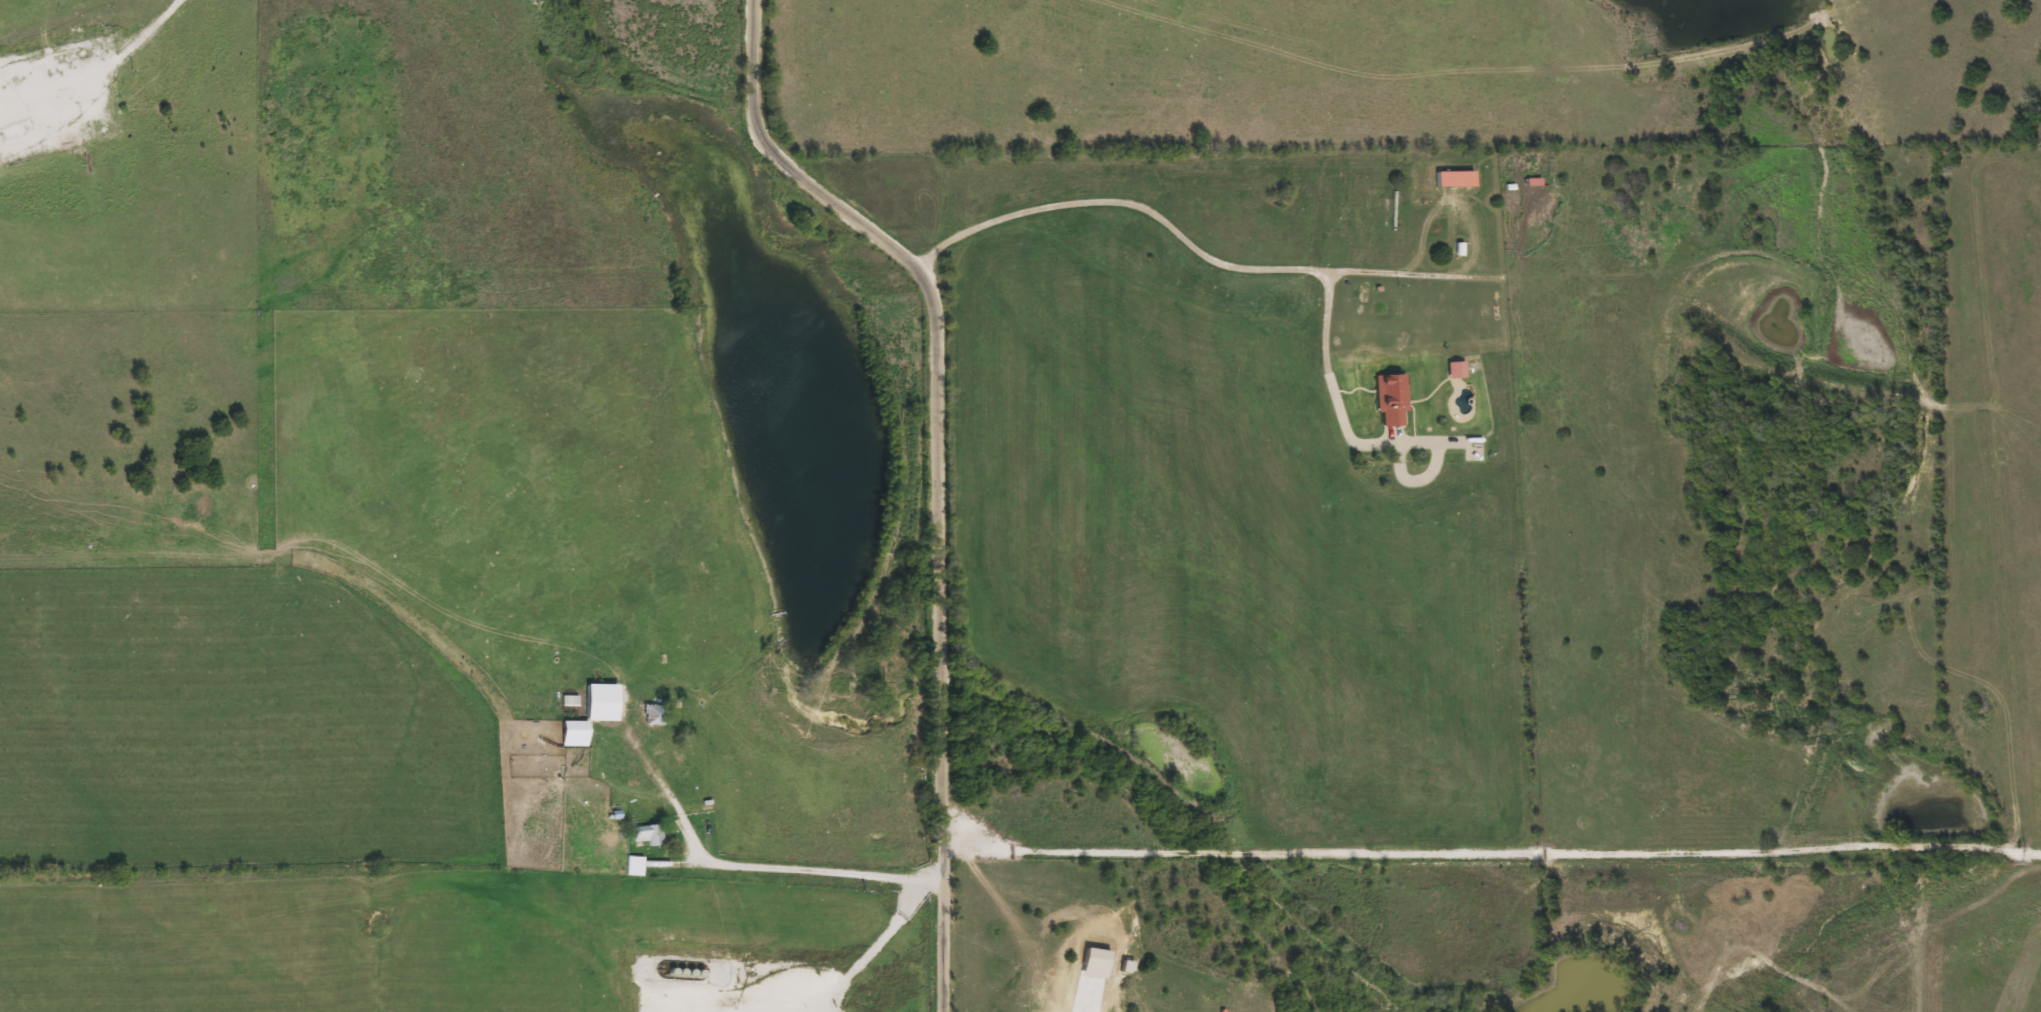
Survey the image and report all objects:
road: (152, 25)
building: (1452, 179)
road: (1279, 268)
road: (1399, 271)
building: (1455, 370)
building: (1389, 400)
road: (944, 469)
road: (646, 476)
building: (588, 713)
building: (652, 715)
building: (646, 834)
road: (1495, 855)
road: (760, 859)
building: (632, 866)
road: (885, 934)

